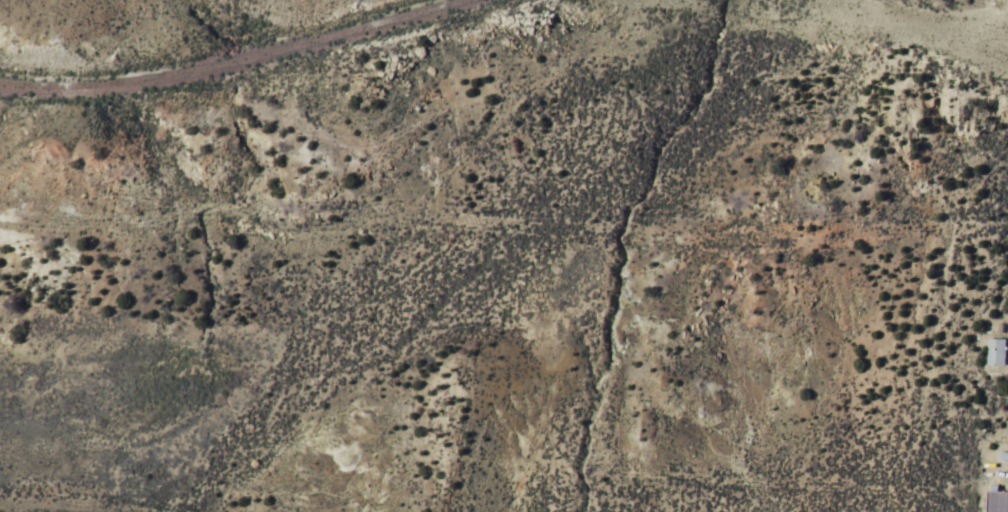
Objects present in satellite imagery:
railway: (908, 25)
railway: (235, 61)
building: (997, 352)

